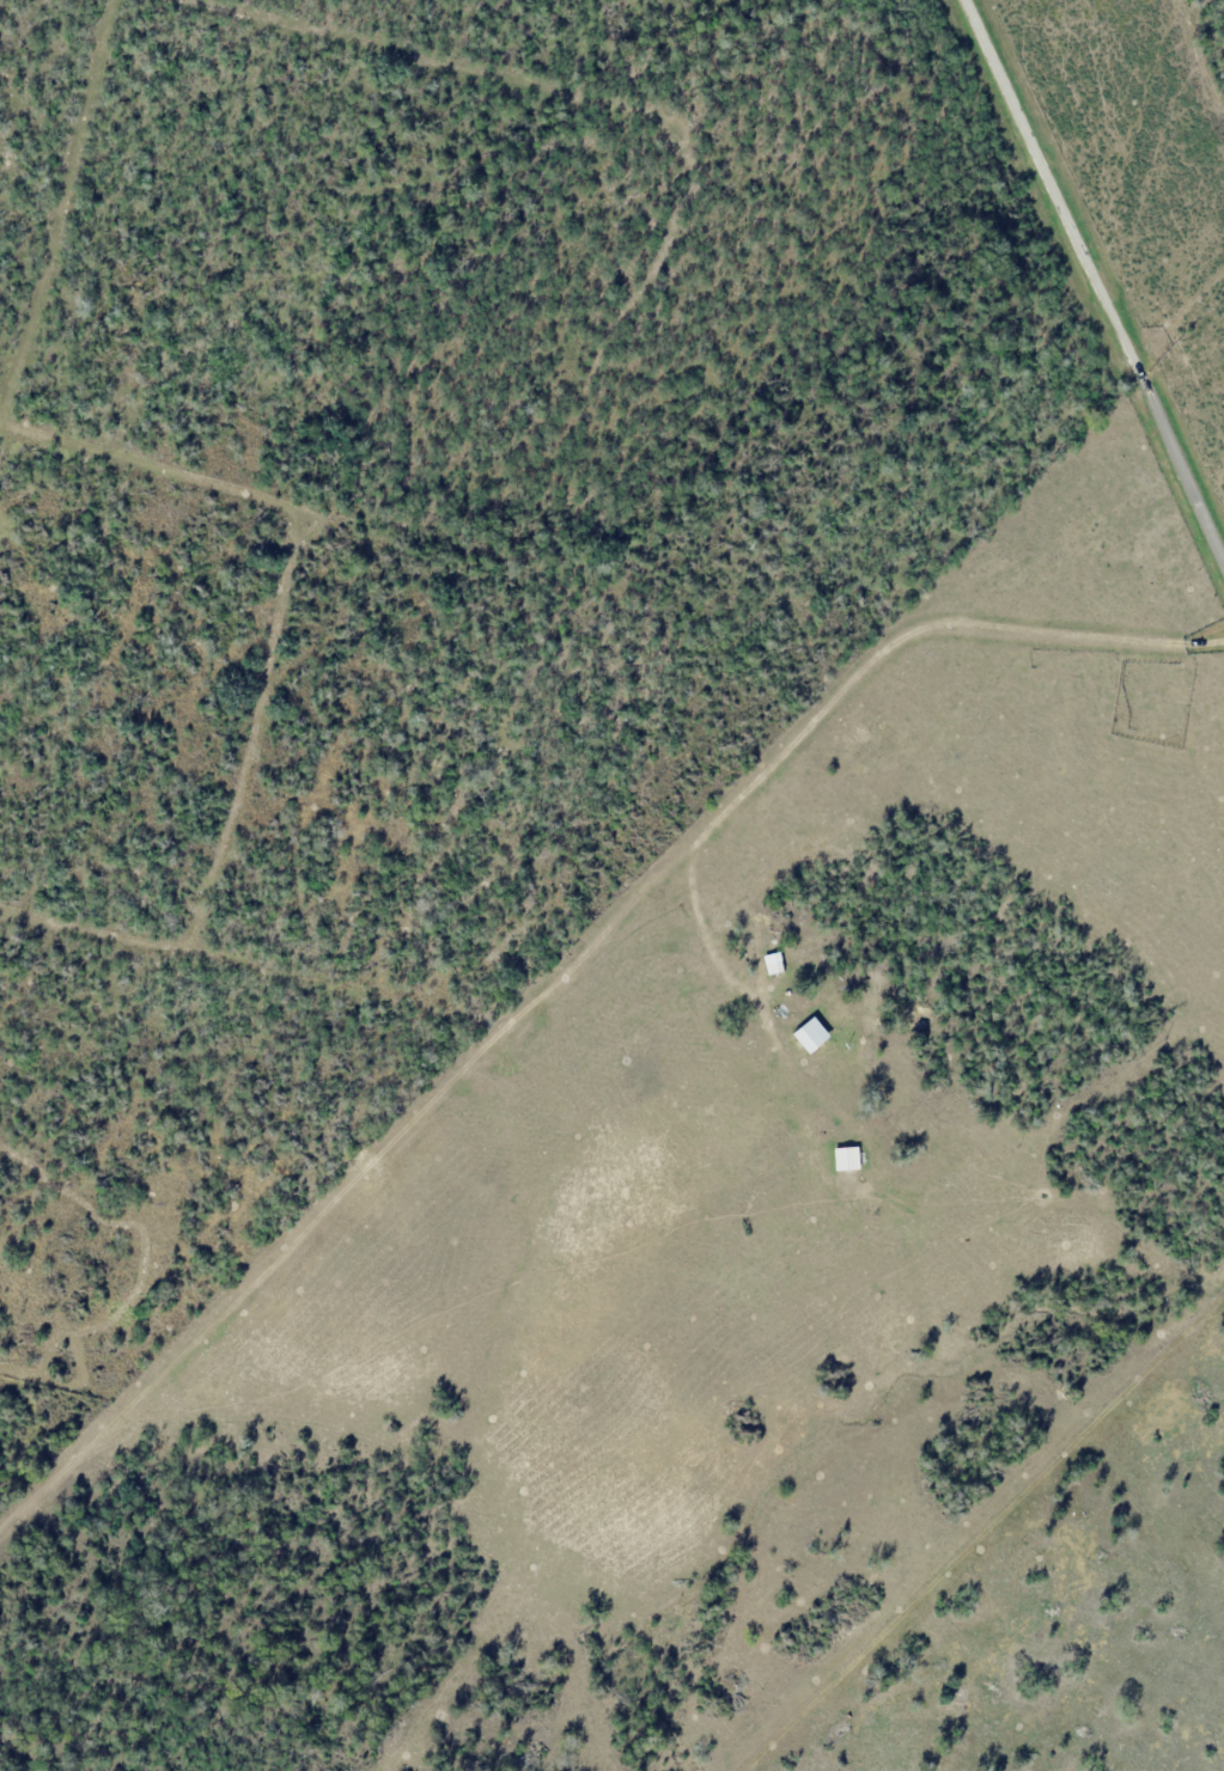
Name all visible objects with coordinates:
road: (1097, 274)
building: (773, 969)
building: (796, 1028)
building: (848, 1158)

